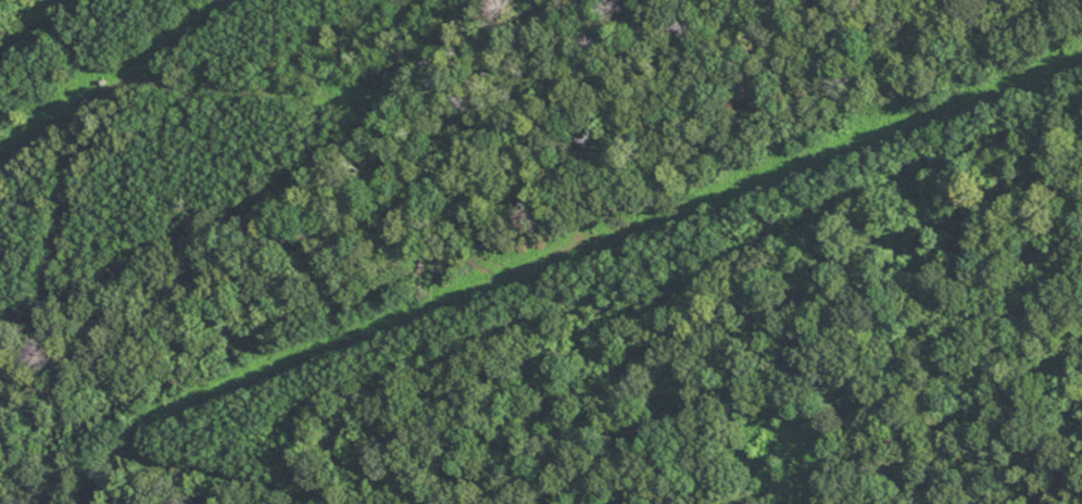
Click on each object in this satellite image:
road: (121, 87)

